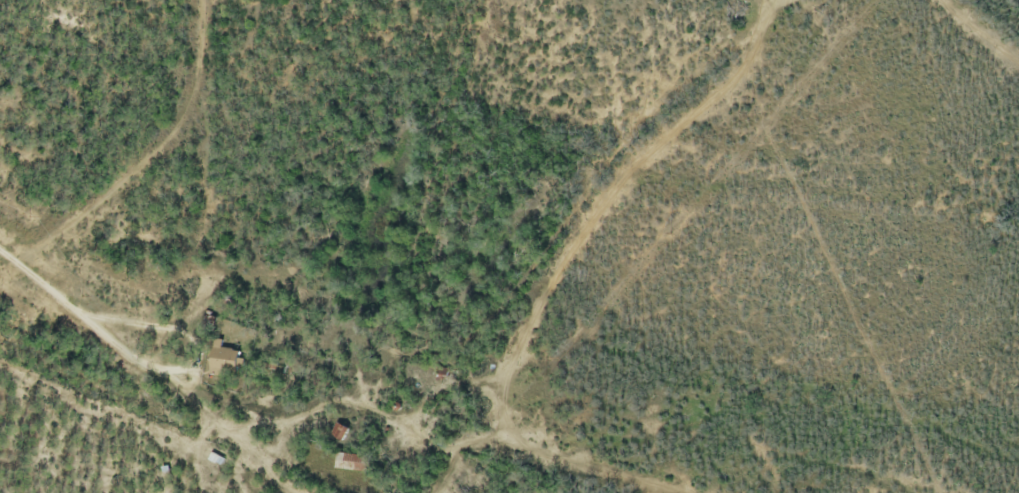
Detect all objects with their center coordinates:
road: (72, 311)
building: (221, 360)
building: (337, 433)

